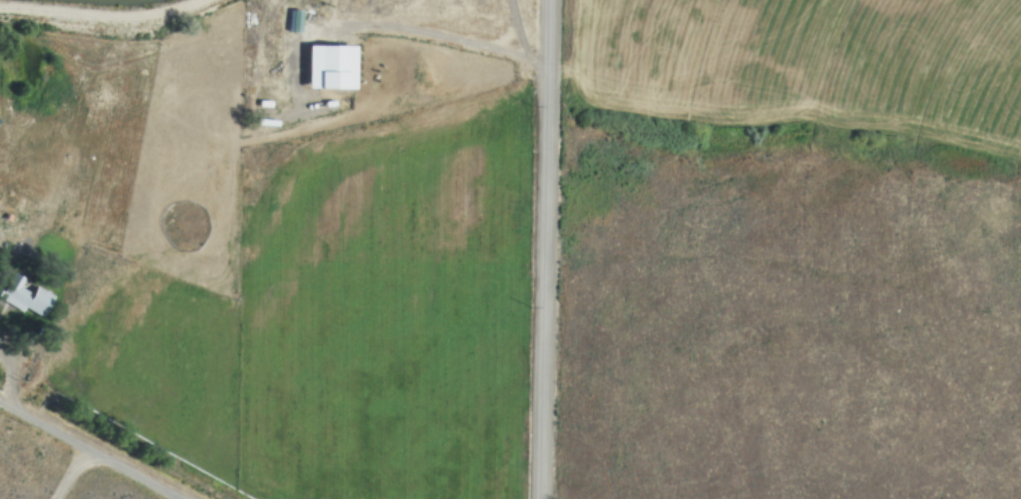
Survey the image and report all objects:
road: (112, 23)
road: (333, 24)
road: (519, 30)
building: (326, 67)
building: (9, 218)
road: (542, 249)
building: (19, 292)
road: (11, 381)
road: (88, 451)
road: (73, 471)

